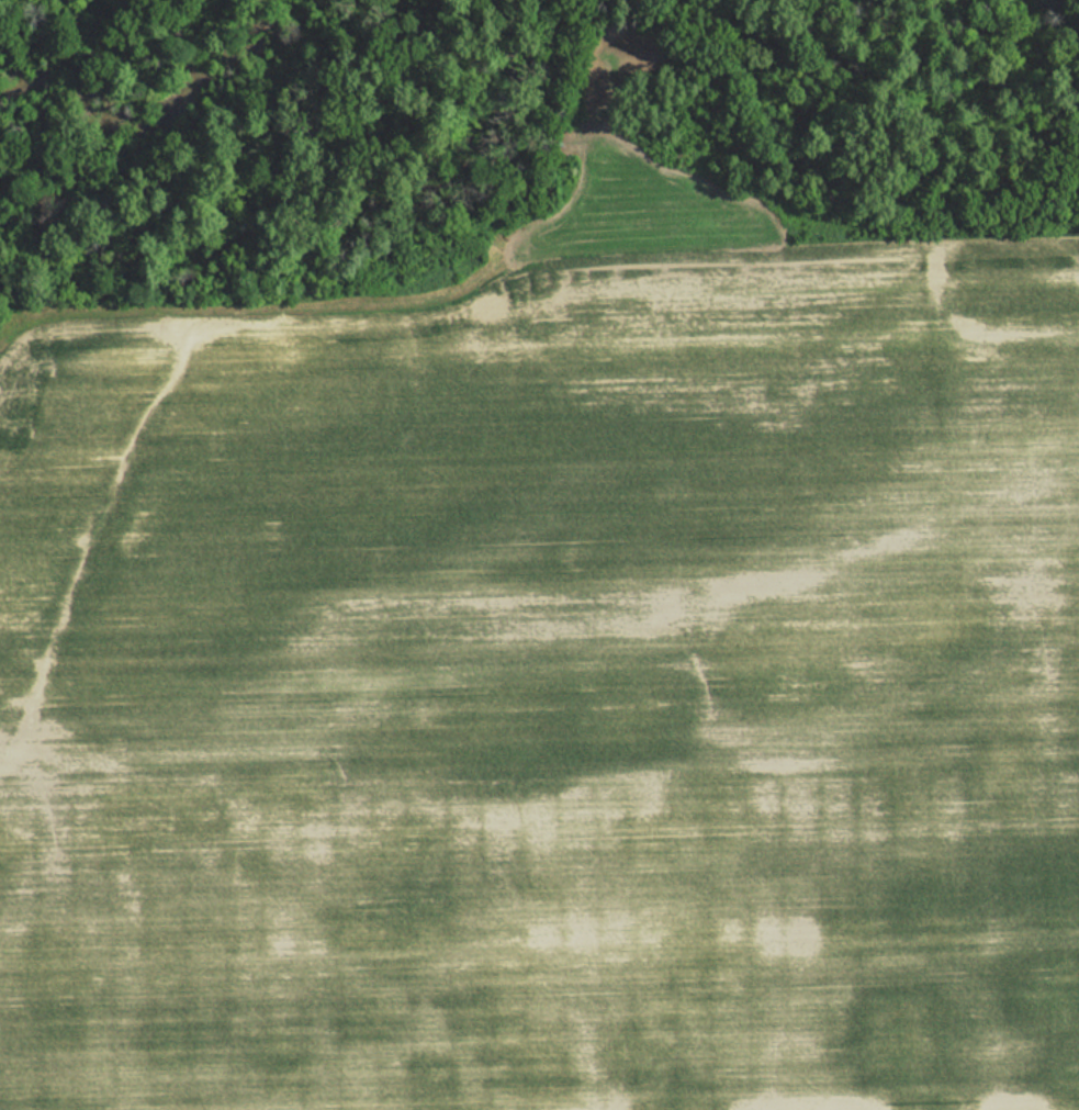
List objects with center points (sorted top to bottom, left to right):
crop: (550, 696)

